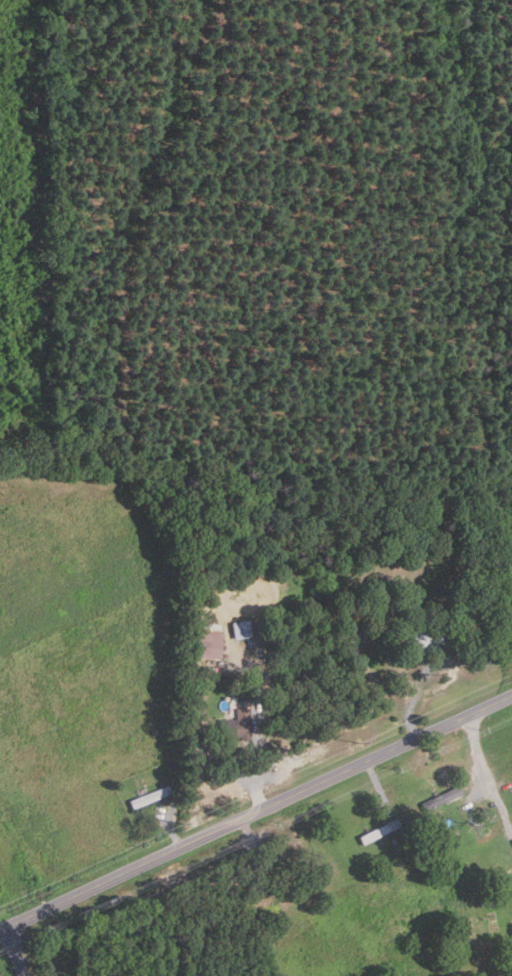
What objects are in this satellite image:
building: (461, 614)
building: (240, 629)
building: (420, 640)
building: (207, 644)
road: (417, 696)
building: (195, 707)
building: (235, 725)
power tower: (360, 744)
road: (258, 750)
road: (485, 773)
road: (378, 787)
building: (148, 797)
building: (441, 798)
road: (254, 813)
power tower: (181, 825)
road: (172, 829)
building: (379, 831)
building: (263, 865)
building: (273, 892)
road: (1, 931)
road: (14, 953)

